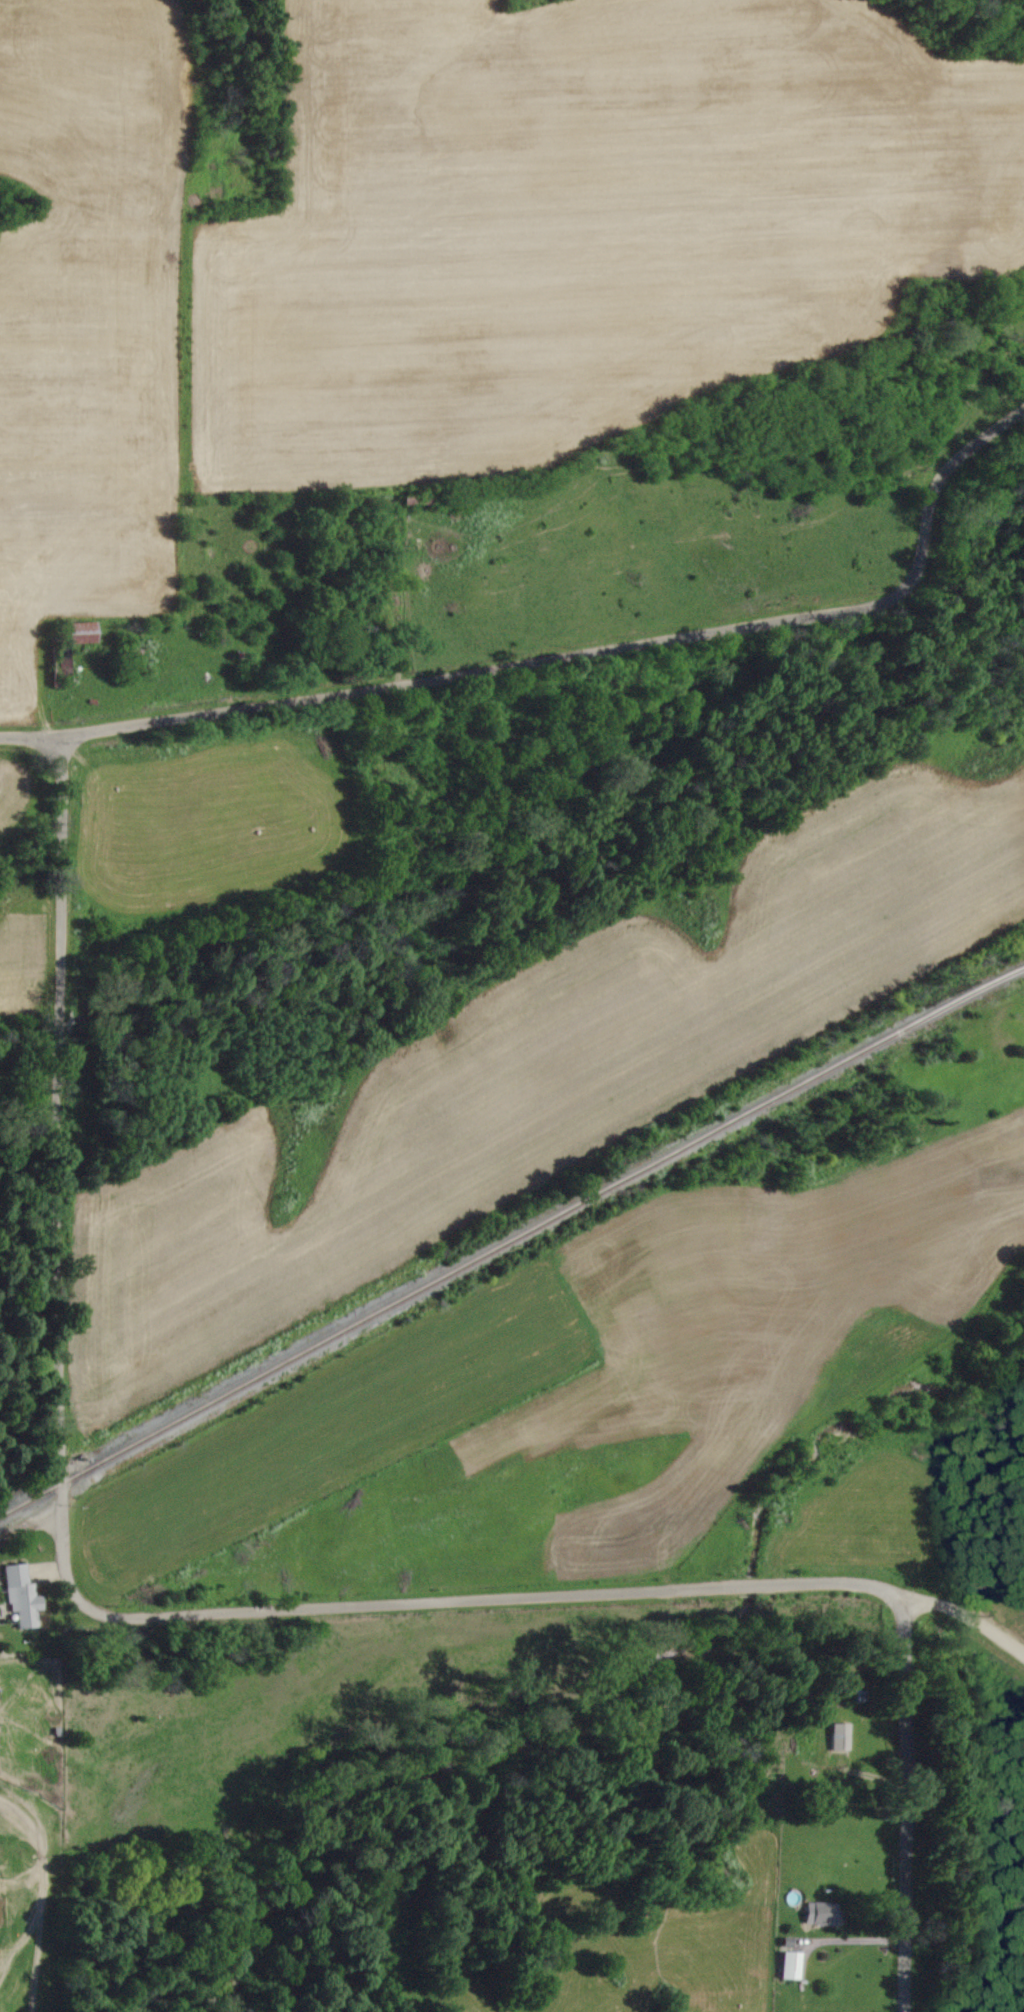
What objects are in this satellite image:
building: (84, 633)
road: (597, 650)
road: (30, 736)
road: (61, 1169)
railway: (511, 1240)
road: (30, 1524)
building: (23, 1597)
road: (491, 1598)
road: (965, 1618)
building: (842, 1736)
road: (912, 1804)
building: (823, 1914)
building: (792, 1962)

